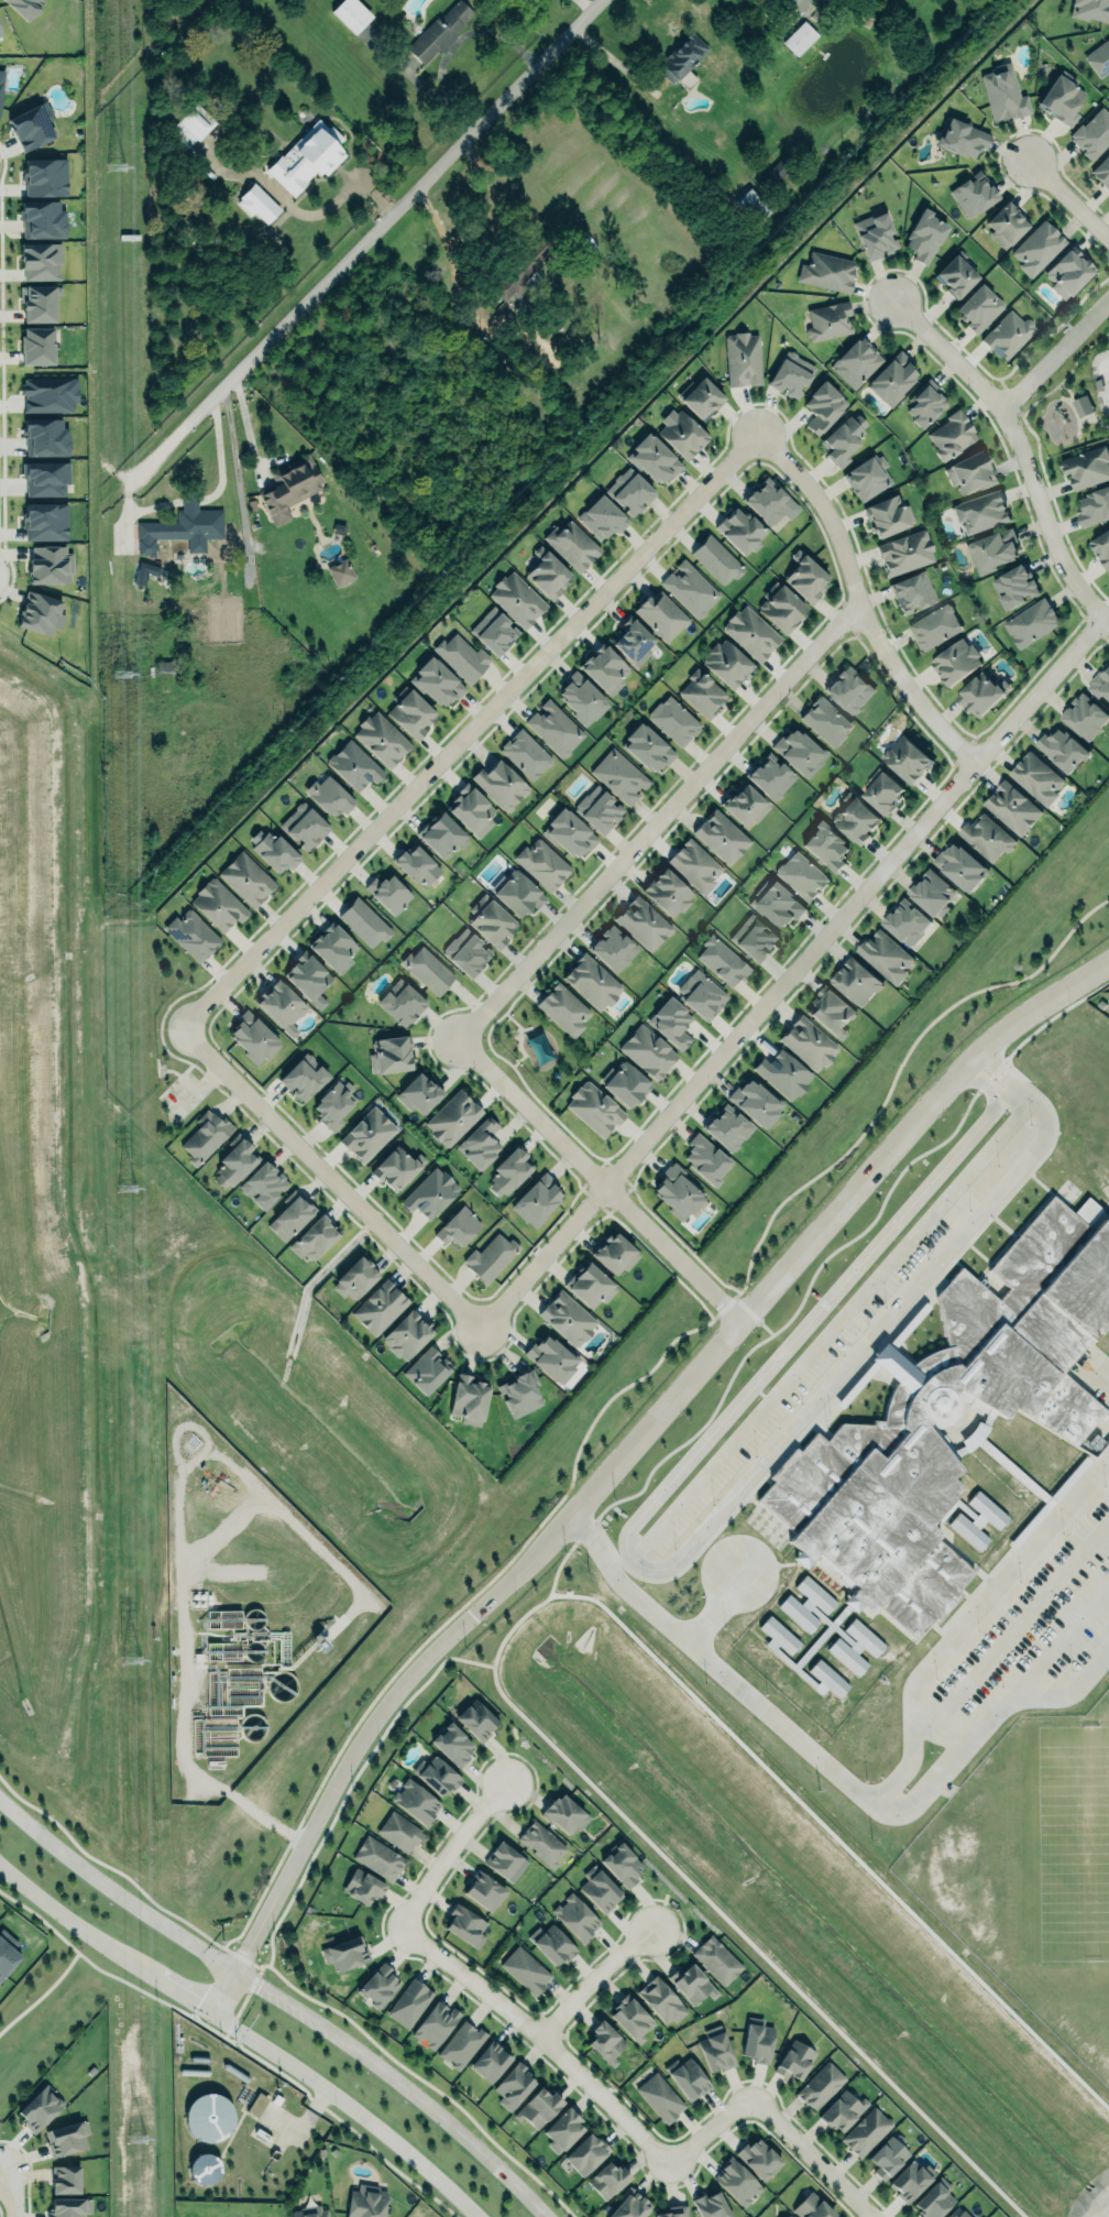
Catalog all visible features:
building: (799, 3)
building: (24, 7)
building: (1091, 9)
building: (351, 14)
building: (440, 31)
road: (468, 32)
building: (0, 34)
building: (799, 39)
building: (682, 55)
building: (1099, 57)
road: (611, 61)
building: (1, 79)
building: (685, 79)
building: (1004, 91)
road: (433, 98)
building: (1062, 98)
building: (32, 125)
building: (191, 125)
building: (1092, 132)
building: (962, 136)
building: (306, 156)
power tower: (111, 166)
building: (1102, 170)
building: (44, 177)
building: (974, 195)
road: (1069, 199)
building: (256, 201)
building: (753, 205)
road: (397, 208)
road: (297, 210)
building: (42, 220)
building: (1007, 222)
road: (482, 229)
building: (875, 233)
building: (925, 234)
building: (1037, 247)
building: (40, 261)
building: (827, 271)
building: (1068, 271)
building: (523, 272)
building: (955, 276)
building: (40, 298)
building: (978, 308)
building: (827, 321)
building: (1007, 335)
building: (35, 341)
road: (1054, 353)
building: (744, 358)
building: (856, 361)
building: (791, 373)
building: (892, 376)
building: (48, 394)
building: (702, 396)
building: (925, 404)
building: (824, 405)
building: (1081, 406)
road: (249, 428)
building: (43, 434)
building: (683, 434)
building: (952, 434)
building: (844, 438)
road: (1020, 450)
road: (218, 456)
building: (654, 459)
building: (1087, 468)
building: (970, 471)
building: (44, 474)
building: (867, 477)
road: (132, 478)
building: (289, 485)
building: (629, 492)
building: (768, 499)
road: (188, 502)
building: (1094, 507)
building: (980, 512)
building: (890, 514)
building: (602, 516)
building: (197, 517)
building: (45, 522)
building: (742, 529)
building: (150, 534)
building: (572, 544)
building: (1101, 547)
building: (992, 549)
building: (904, 553)
building: (716, 560)
building: (46, 564)
building: (144, 571)
building: (340, 572)
building: (547, 574)
building: (805, 577)
building: (1014, 586)
building: (691, 588)
building: (913, 590)
building: (516, 599)
road: (860, 602)
building: (782, 608)
building: (39, 611)
building: (661, 614)
building: (1032, 621)
building: (936, 626)
building: (494, 631)
building: (753, 632)
building: (632, 636)
building: (462, 657)
building: (727, 662)
building: (956, 662)
building: (605, 669)
power tower: (117, 675)
building: (437, 682)
building: (1100, 684)
building: (849, 689)
building: (703, 691)
building: (984, 694)
building: (583, 698)
building: (413, 712)
building: (1086, 716)
building: (673, 720)
building: (826, 721)
building: (554, 728)
road: (469, 732)
building: (383, 738)
building: (648, 747)
building: (1062, 749)
building: (799, 751)
building: (527, 753)
building: (907, 760)
building: (354, 765)
building: (619, 776)
building: (771, 776)
building: (1037, 777)
building: (499, 785)
building: (883, 793)
building: (330, 795)
building: (745, 805)
building: (1013, 807)
building: (472, 809)
building: (597, 809)
building: (856, 819)
road: (659, 823)
building: (305, 824)
building: (570, 832)
building: (441, 836)
building: (721, 837)
building: (987, 837)
building: (826, 845)
building: (273, 850)
building: (542, 863)
building: (695, 864)
building: (417, 865)
building: (960, 866)
building: (802, 875)
building: (248, 878)
building: (667, 889)
building: (517, 892)
building: (388, 893)
building: (933, 893)
building: (218, 902)
building: (776, 904)
building: (364, 921)
building: (644, 922)
building: (905, 922)
building: (493, 924)
building: (191, 935)
building: (753, 938)
building: (334, 948)
building: (614, 948)
building: (465, 950)
building: (887, 955)
building: (723, 960)
building: (428, 969)
road: (791, 973)
building: (309, 976)
building: (855, 981)
building: (592, 982)
building: (701, 994)
building: (403, 1003)
building: (281, 1006)
building: (563, 1008)
building: (832, 1008)
building: (671, 1023)
building: (252, 1037)
building: (806, 1041)
building: (388, 1051)
building: (647, 1051)
building: (784, 1073)
building: (304, 1078)
building: (625, 1083)
building: (418, 1094)
road: (1014, 1096)
building: (755, 1102)
building: (332, 1104)
building: (594, 1107)
building: (453, 1117)
building: (727, 1127)
building: (366, 1133)
building: (204, 1136)
building: (480, 1144)
building: (706, 1158)
building: (234, 1162)
building: (397, 1167)
building: (509, 1170)
road: (330, 1179)
road: (600, 1179)
building: (263, 1184)
power tower: (124, 1191)
building: (678, 1192)
building: (430, 1193)
building: (537, 1200)
building: (290, 1217)
building: (458, 1226)
building: (314, 1238)
building: (616, 1254)
building: (491, 1255)
building: (354, 1278)
building: (592, 1287)
building: (380, 1307)
building: (568, 1317)
building: (407, 1334)
building: (552, 1358)
building: (426, 1370)
building: (520, 1393)
building: (469, 1399)
building: (938, 1442)
road: (623, 1455)
road: (661, 1569)
road: (968, 1617)
power tower: (130, 1661)
road: (716, 1666)
building: (476, 1719)
road: (988, 1722)
building: (452, 1745)
building: (438, 1776)
building: (416, 1802)
building: (563, 1813)
building: (399, 1832)
building: (541, 1843)
road: (450, 1848)
building: (378, 1858)
building: (503, 1860)
building: (623, 1866)
building: (362, 1887)
building: (483, 1891)
building: (601, 1891)
building: (575, 1918)
building: (465, 1926)
building: (552, 1944)
building: (7, 1953)
building: (347, 1953)
building: (717, 1959)
building: (526, 1970)
road: (596, 1979)
building: (691, 1984)
building: (377, 1988)
road: (39, 1997)
road: (281, 1998)
building: (662, 2000)
building: (409, 2003)
building: (632, 2019)
building: (435, 2024)
road: (244, 2032)
road: (543, 2033)
building: (757, 2041)
building: (605, 2042)
building: (461, 2044)
building: (715, 2051)
building: (793, 2060)
building: (488, 2062)
building: (688, 2077)
building: (820, 2086)
building: (514, 2087)
building: (660, 2097)
building: (256, 2104)
building: (538, 2107)
building: (39, 2109)
building: (842, 2110)
building: (208, 2116)
road: (710, 2129)
building: (563, 2130)
building: (866, 2132)
building: (66, 2138)
power tower: (138, 2138)
building: (583, 2153)
road: (812, 2156)
building: (888, 2158)
building: (759, 2159)
building: (204, 2170)
building: (65, 2180)
building: (608, 2180)
building: (910, 2180)
building: (738, 2181)
road: (4, 2193)
building: (935, 2199)
building: (366, 2203)
building: (629, 2205)
building: (711, 2205)
building: (69, 2207)
building: (812, 2207)
building: (311, 2211)
building: (673, 2211)
building: (958, 2213)
building: (786, 2215)

